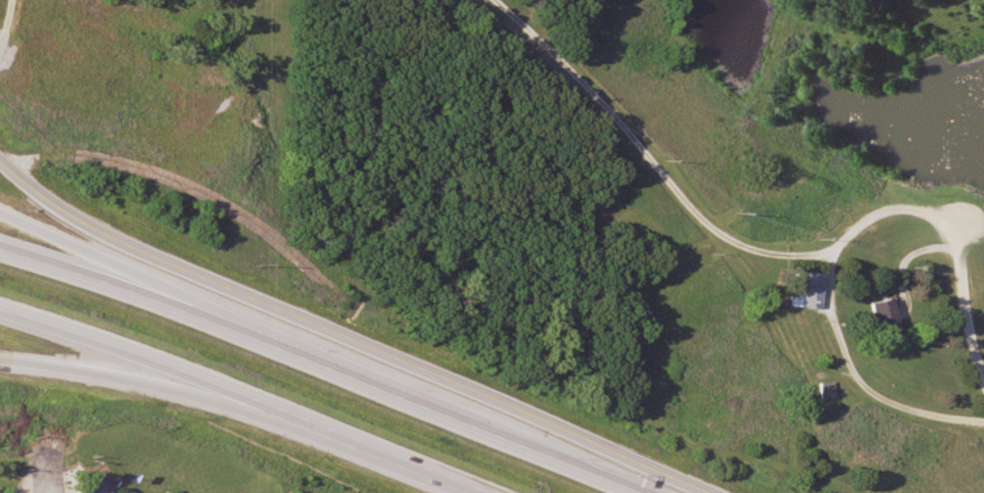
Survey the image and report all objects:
building: (72, 8)
building: (71, 36)
building: (71, 77)
park: (658, 169)
dam: (932, 176)
road: (871, 180)
road: (677, 189)
road: (169, 289)
building: (802, 291)
road: (307, 313)
building: (875, 314)
road: (323, 363)
road: (856, 377)
road: (154, 383)
building: (824, 391)
road: (242, 397)
road: (669, 475)
building: (96, 486)

